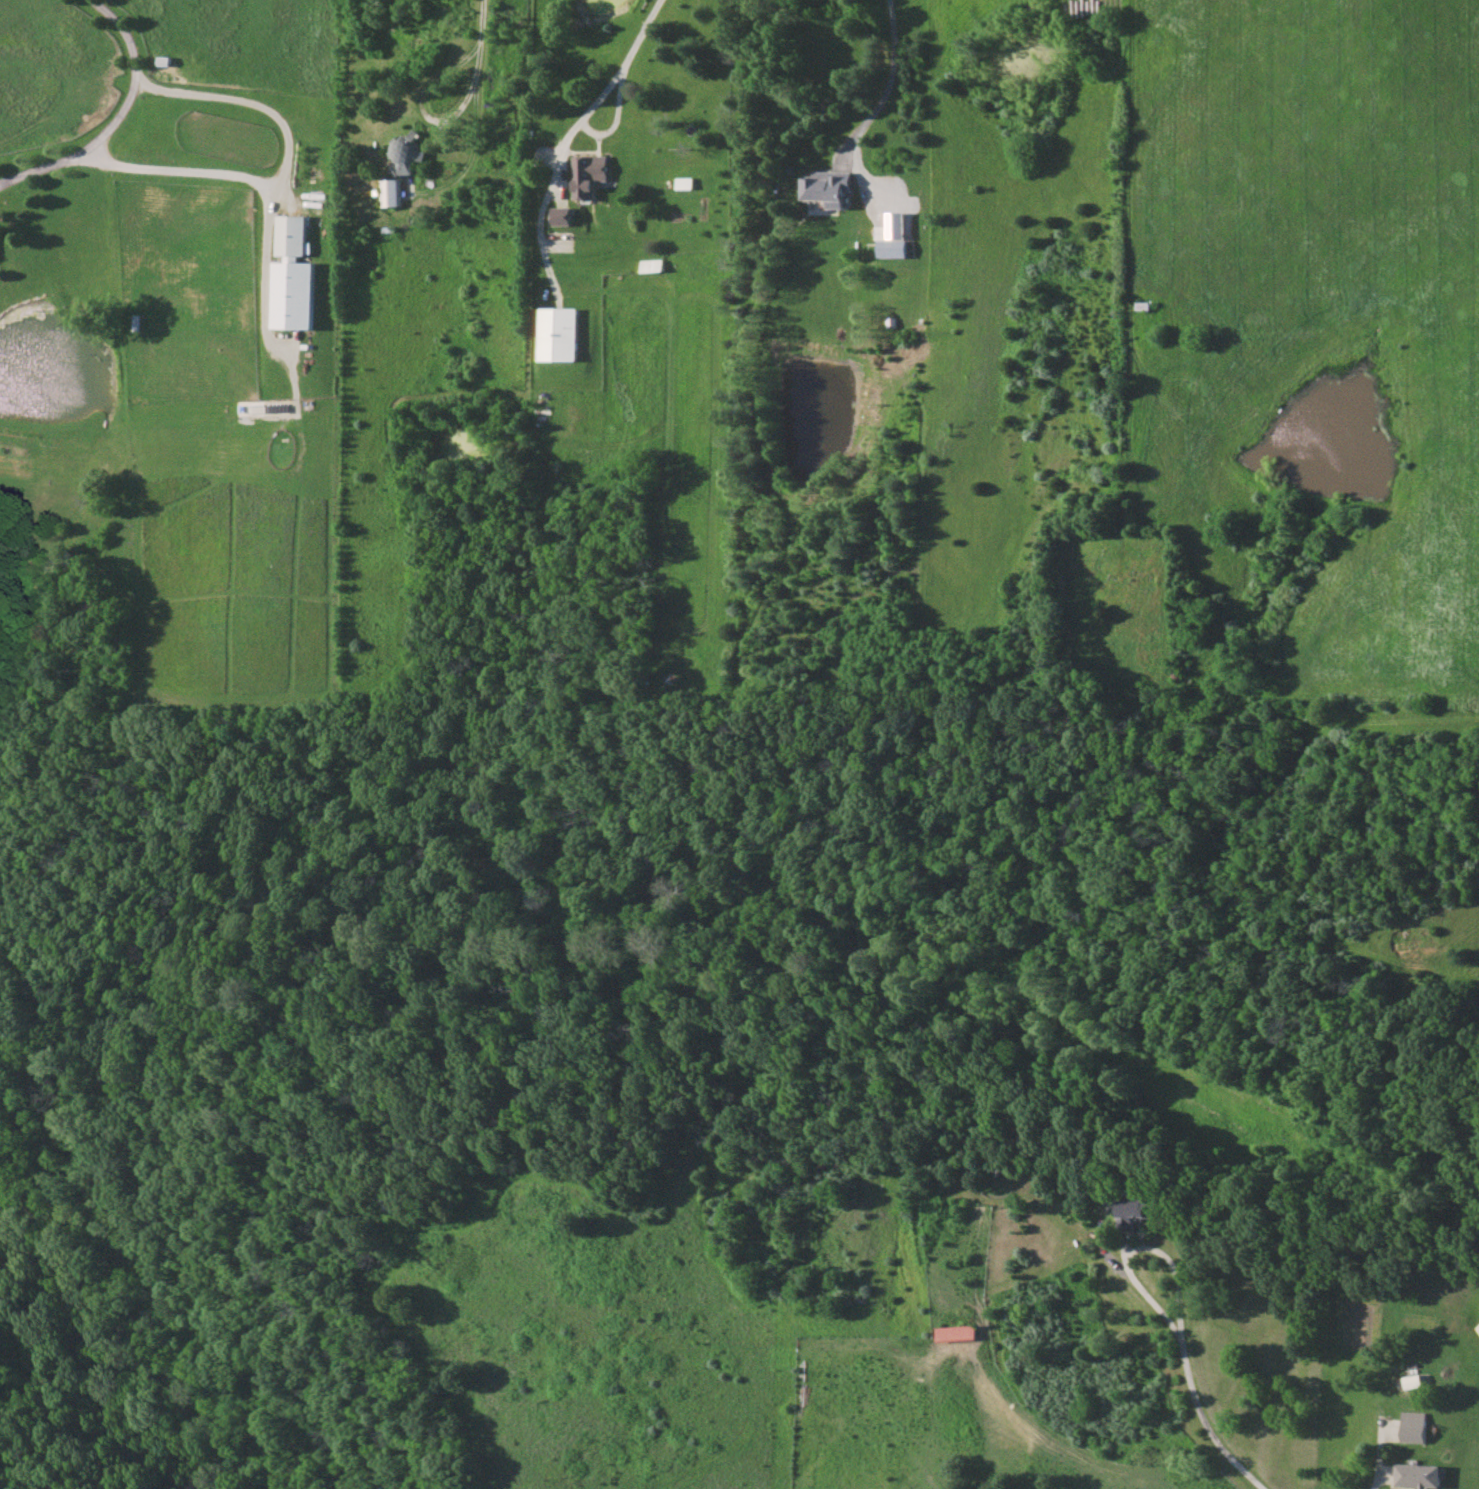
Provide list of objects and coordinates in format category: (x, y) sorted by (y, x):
road: (483, 26)
road: (890, 81)
road: (118, 117)
road: (431, 117)
road: (569, 137)
building: (406, 153)
road: (1129, 153)
road: (285, 167)
building: (589, 175)
building: (829, 187)
building: (390, 192)
building: (562, 216)
building: (892, 241)
road: (267, 257)
building: (293, 277)
building: (558, 334)
building: (1136, 1210)
road: (1133, 1241)
building: (1478, 1328)
road: (1202, 1416)
building: (1414, 1427)
building: (1419, 1475)
road: (1380, 1480)

